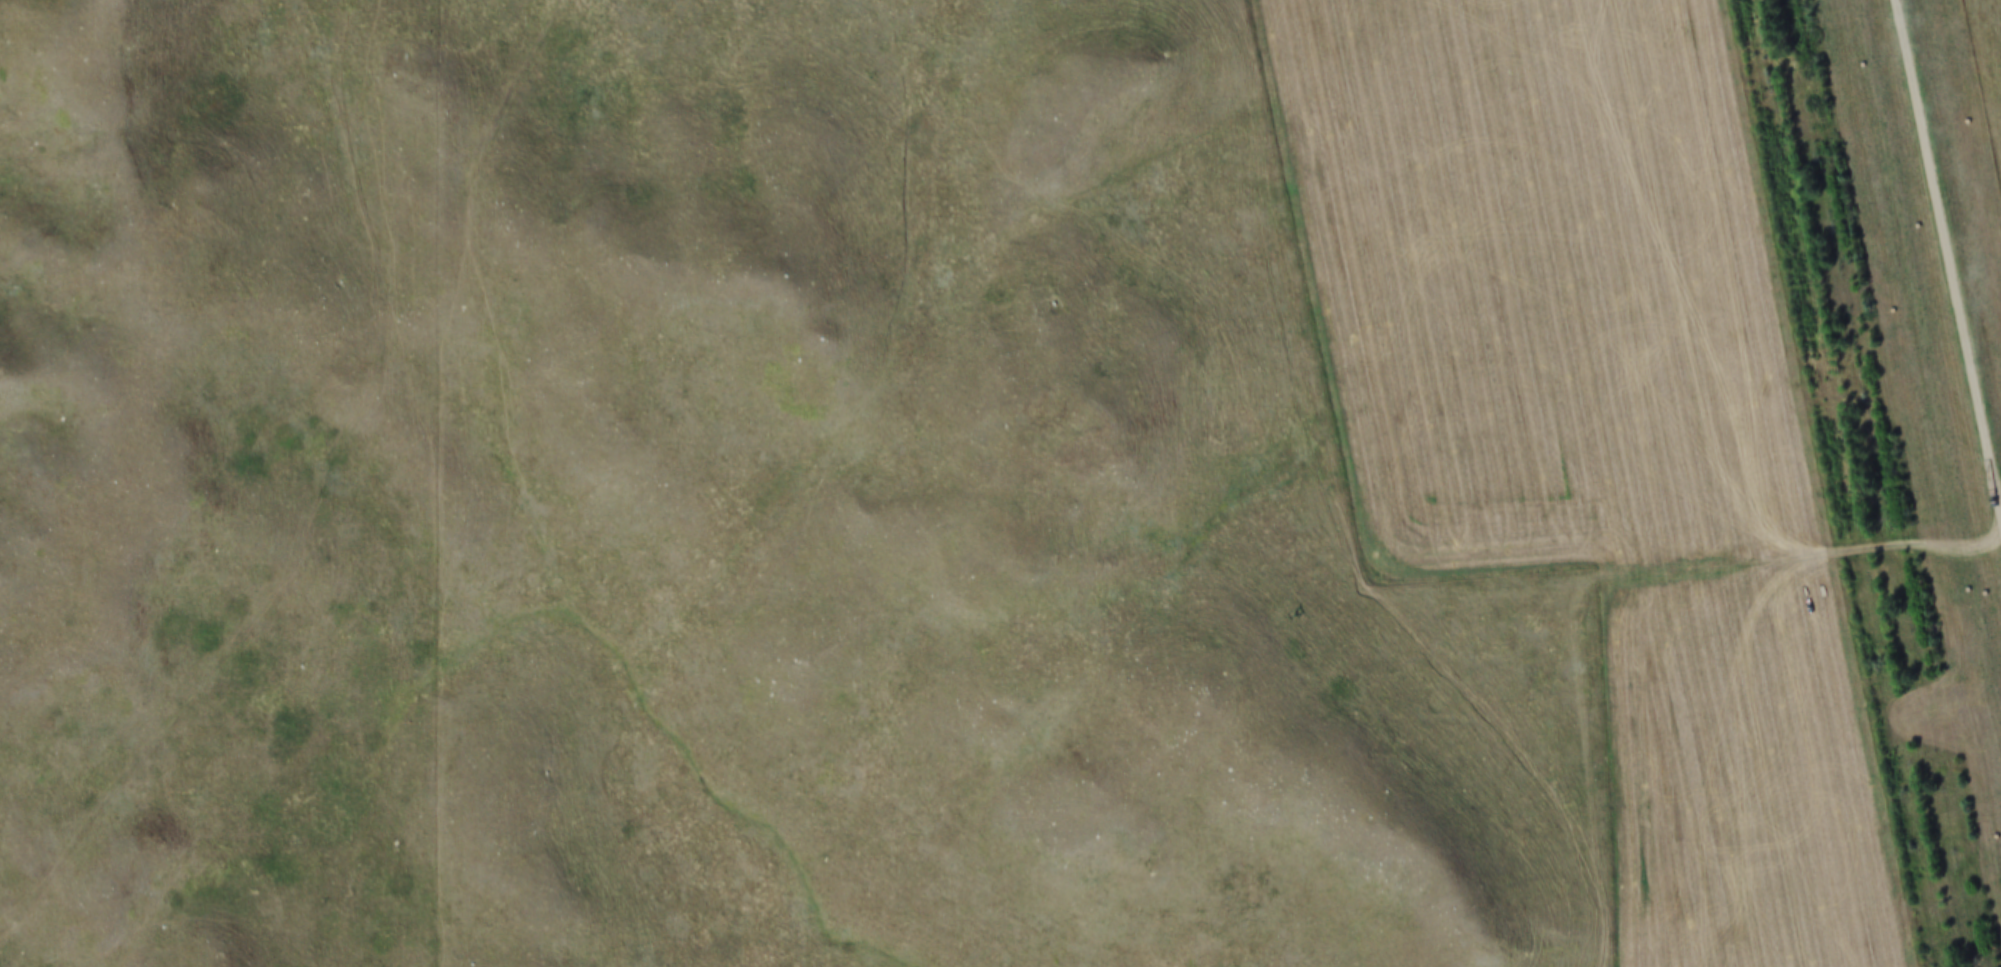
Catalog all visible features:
road: (1950, 252)
road: (444, 471)

